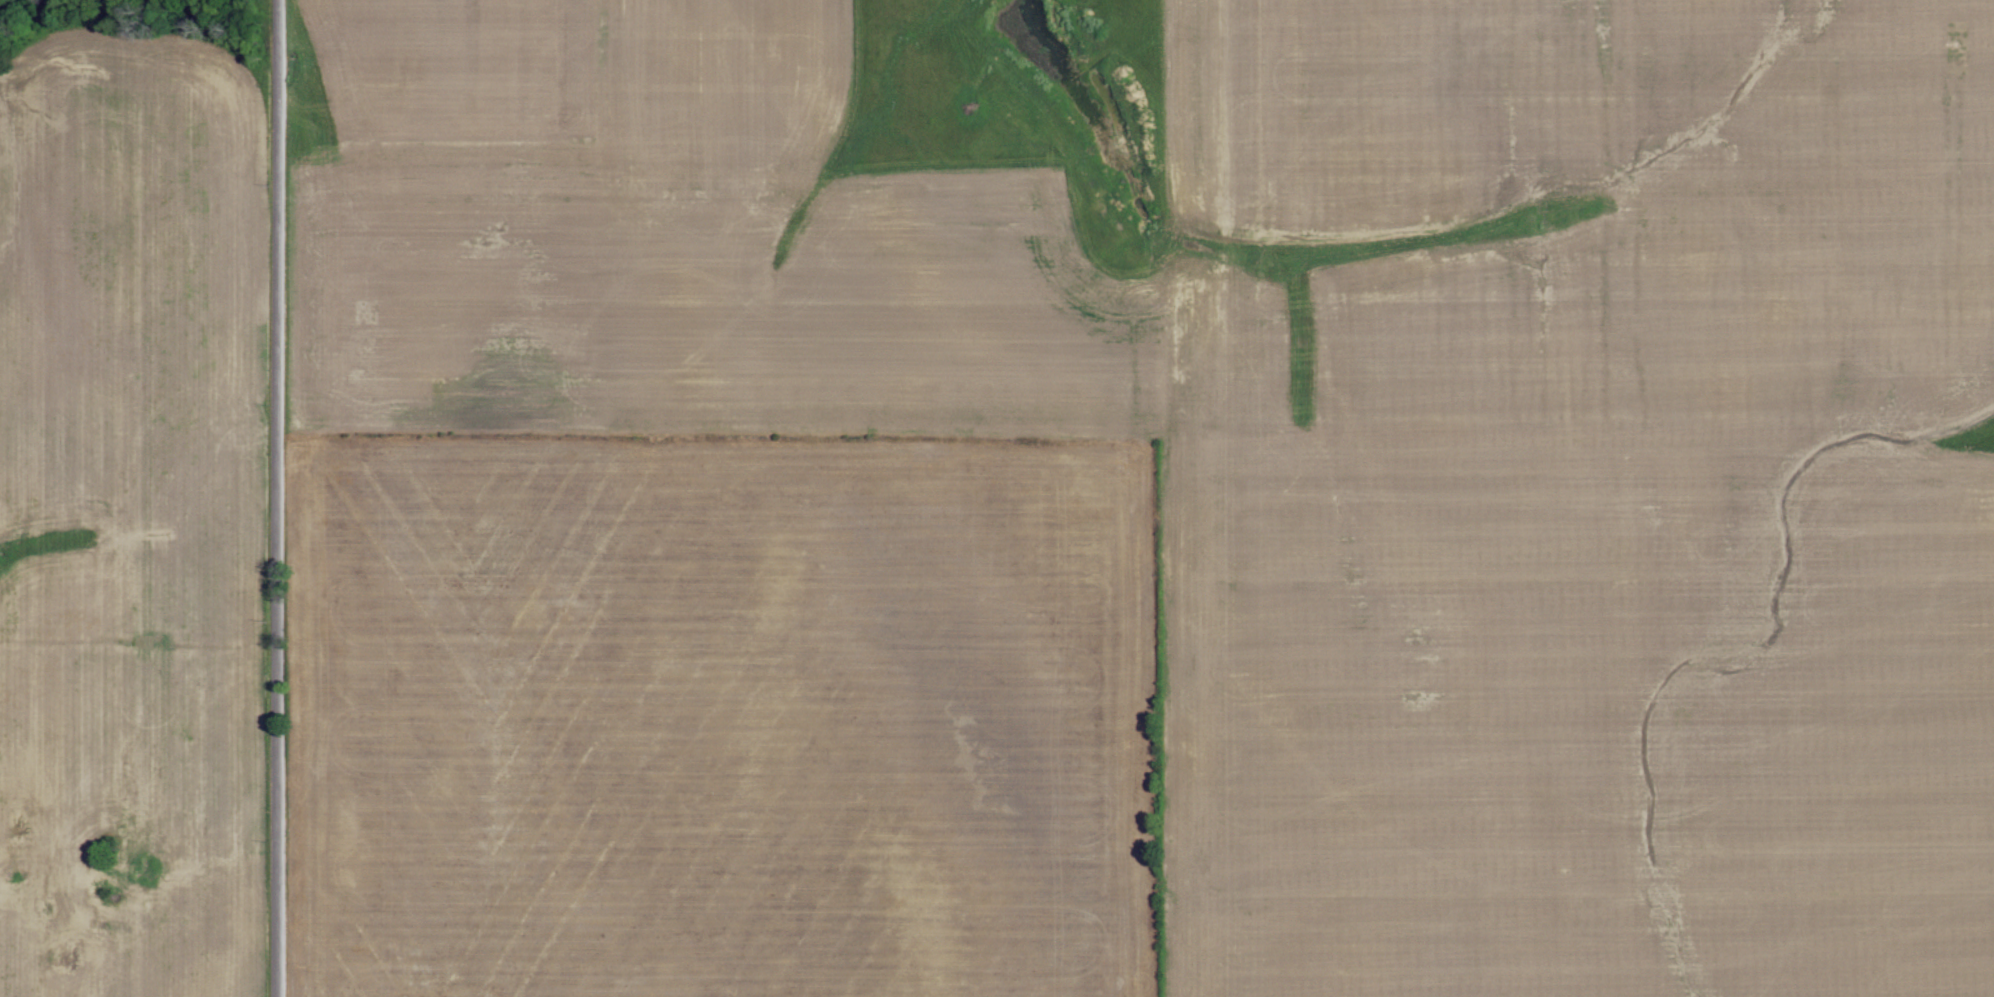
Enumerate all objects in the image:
road: (281, 498)

